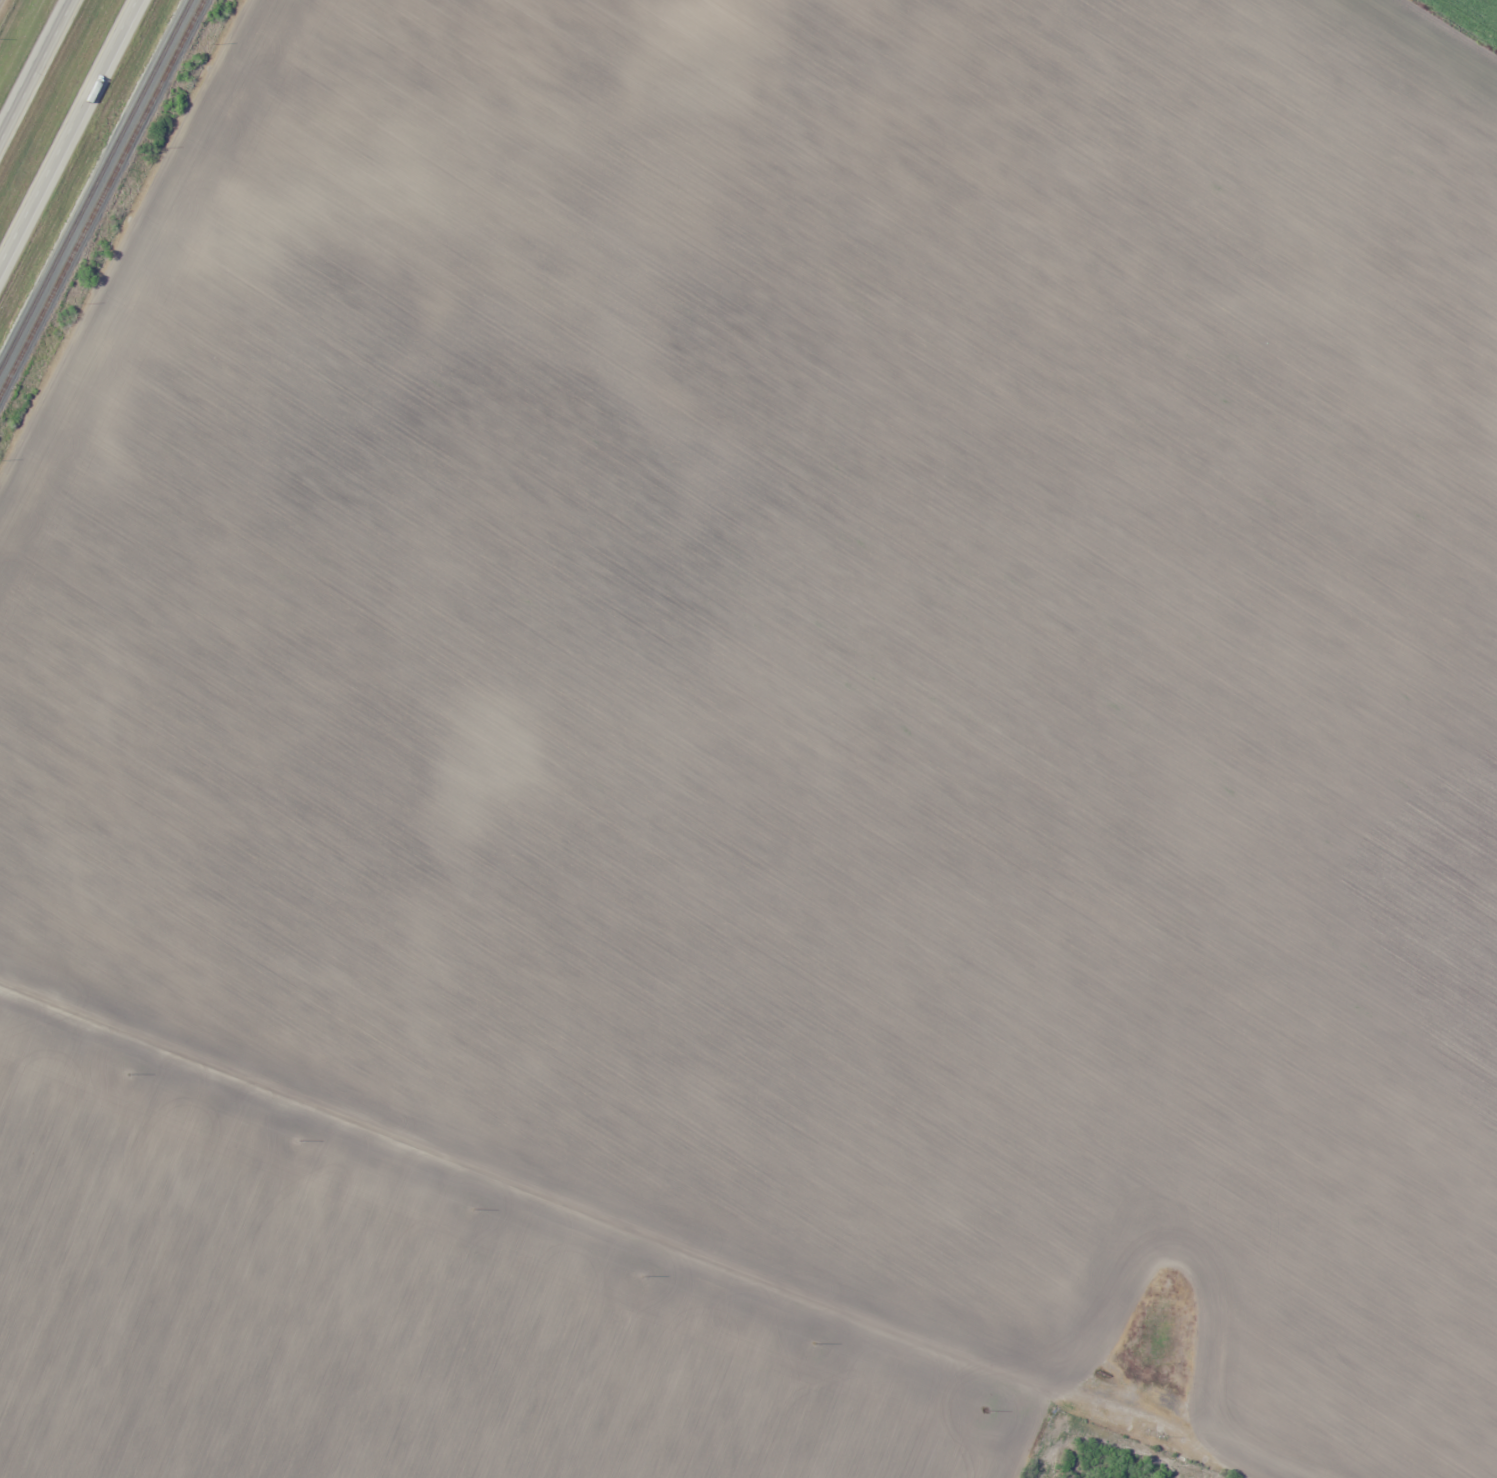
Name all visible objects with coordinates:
road: (36, 71)
road: (76, 148)
railway: (102, 203)

